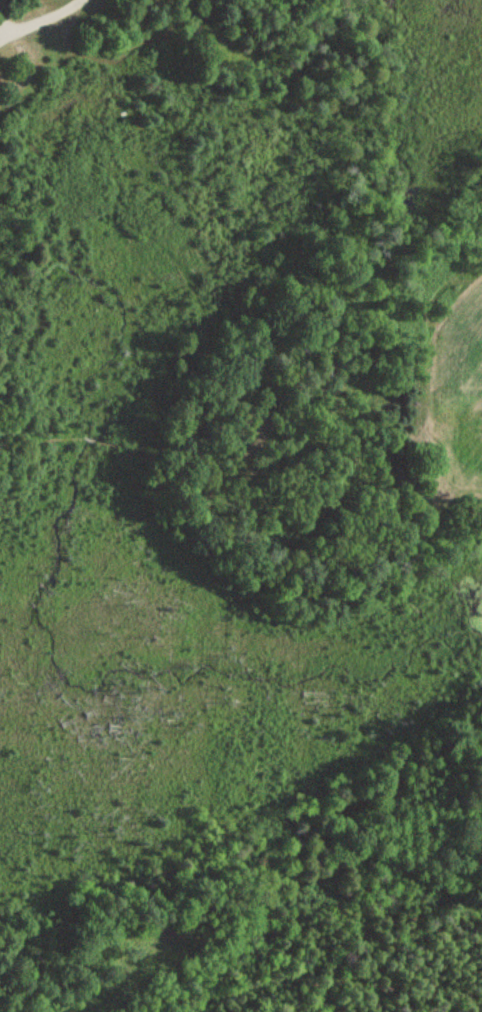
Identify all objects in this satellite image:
road: (44, 22)

